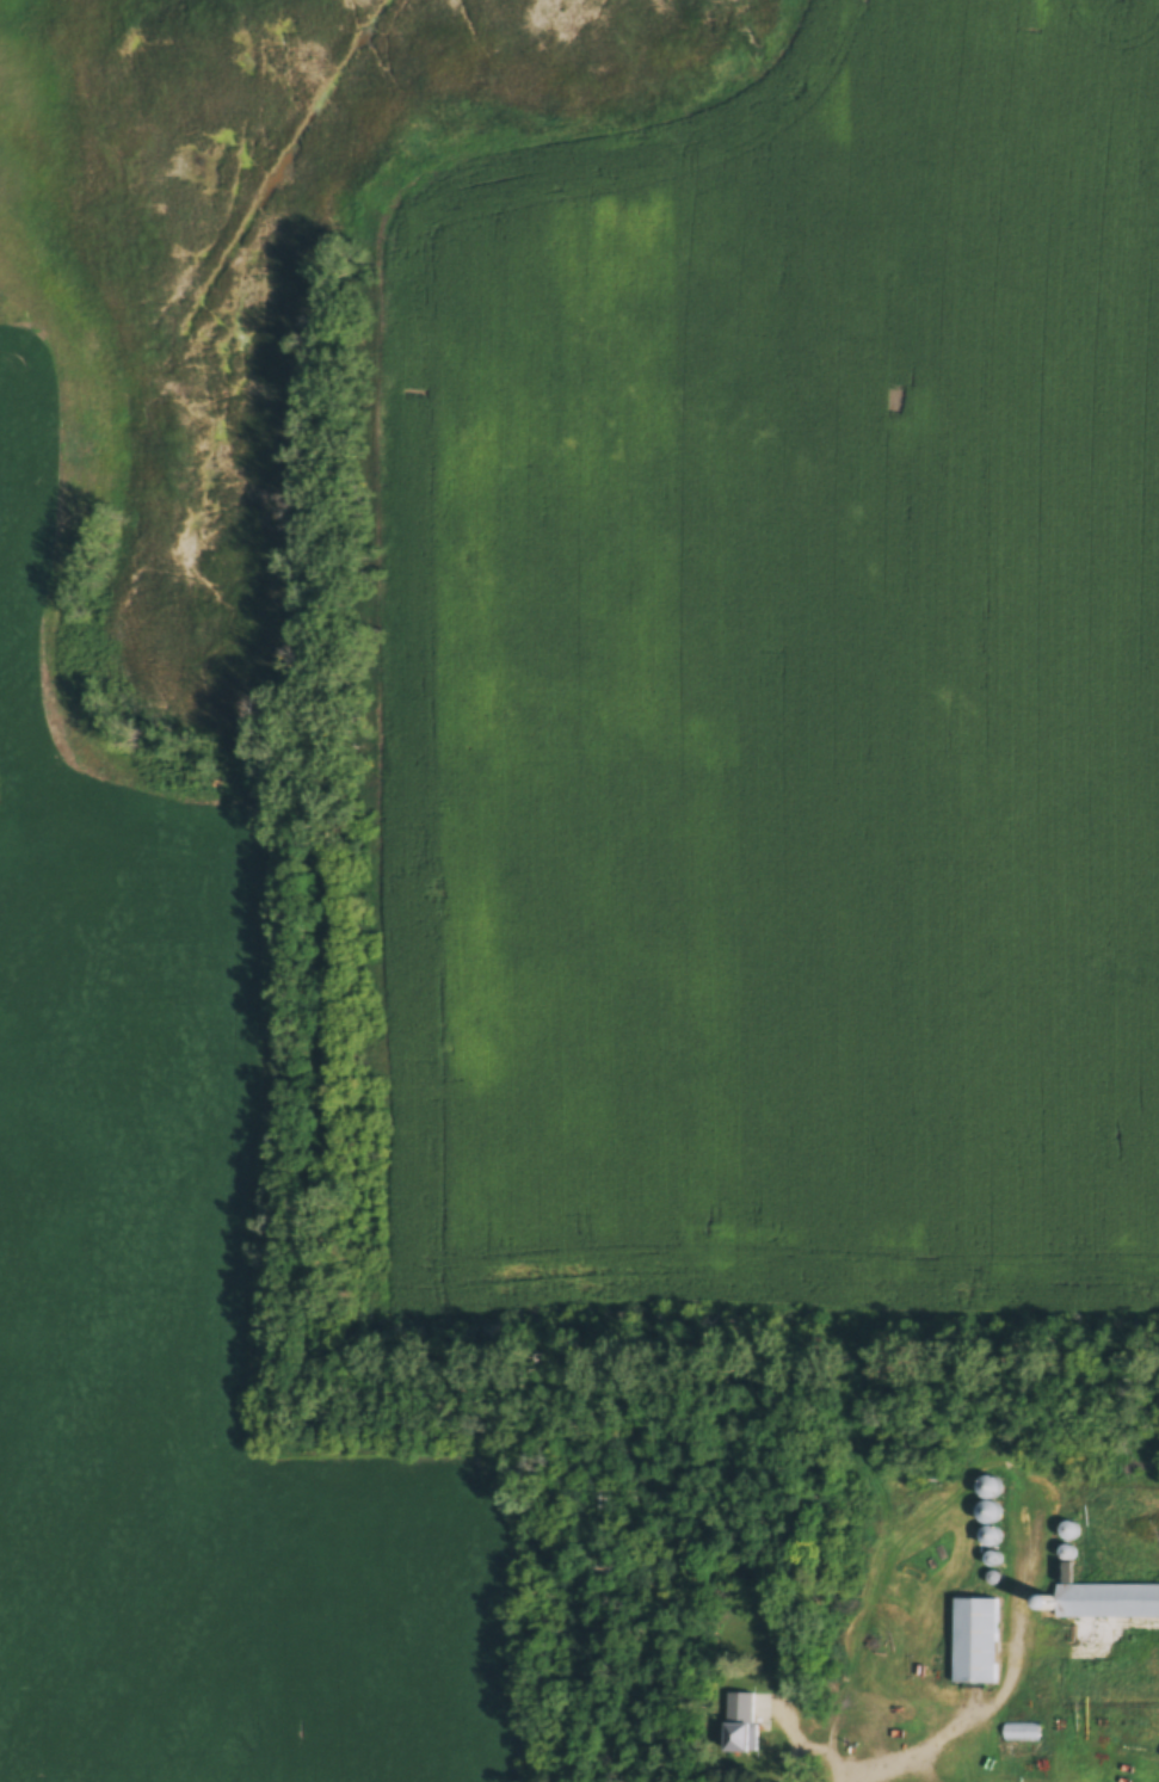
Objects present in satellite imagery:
building: (1103, 1602)
building: (974, 1642)
building: (744, 1722)
road: (951, 1725)
building: (1021, 1733)

